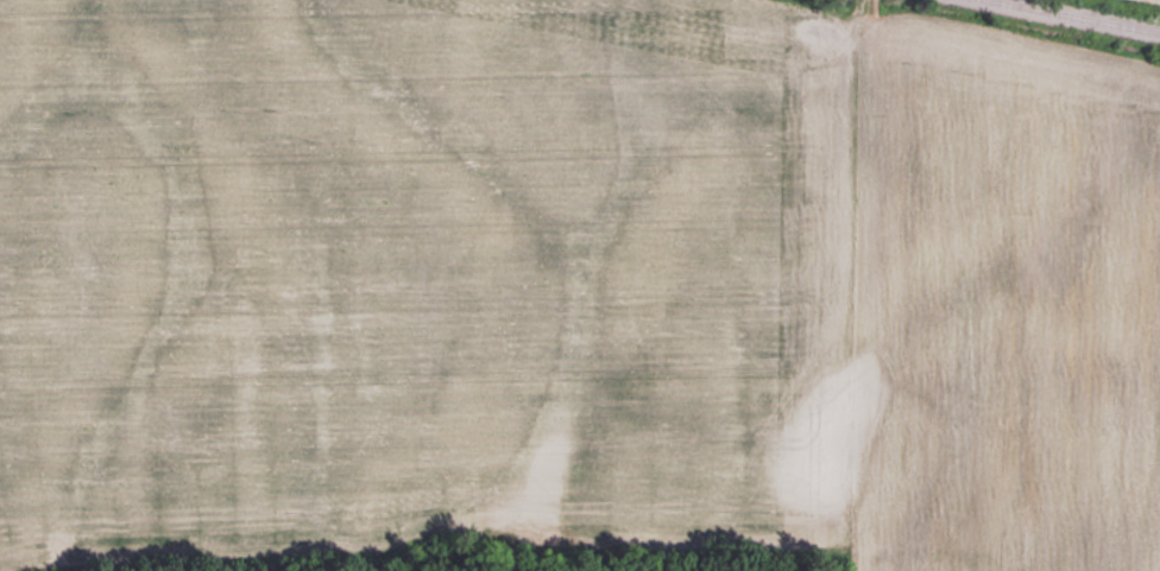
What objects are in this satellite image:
railway: (1076, 15)

